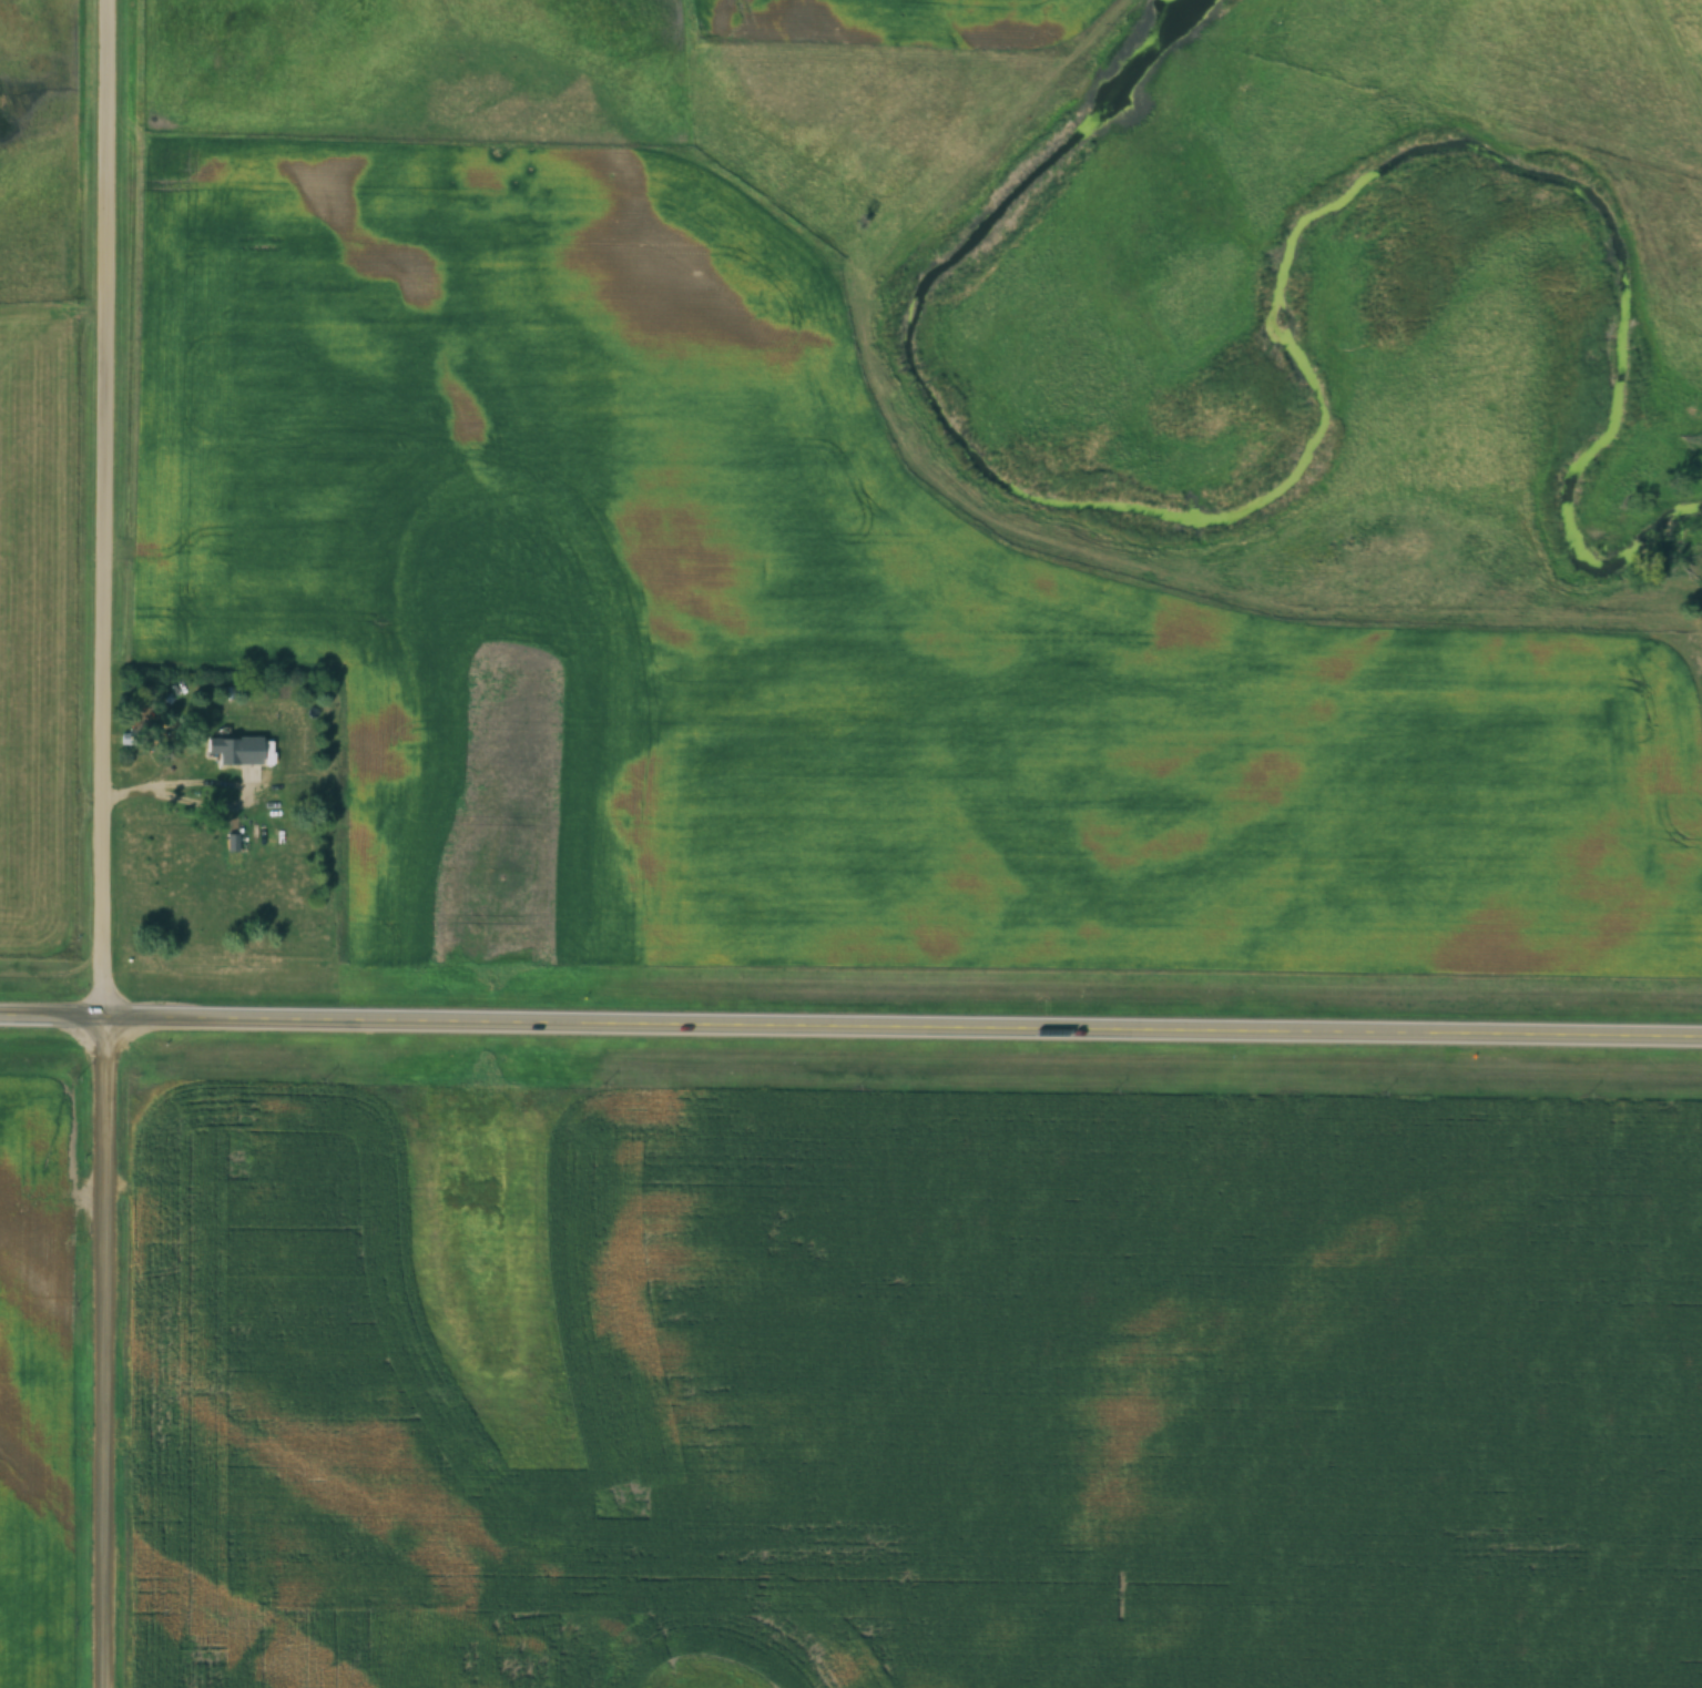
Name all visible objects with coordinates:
building: (233, 748)
road: (105, 844)
road: (850, 1027)

